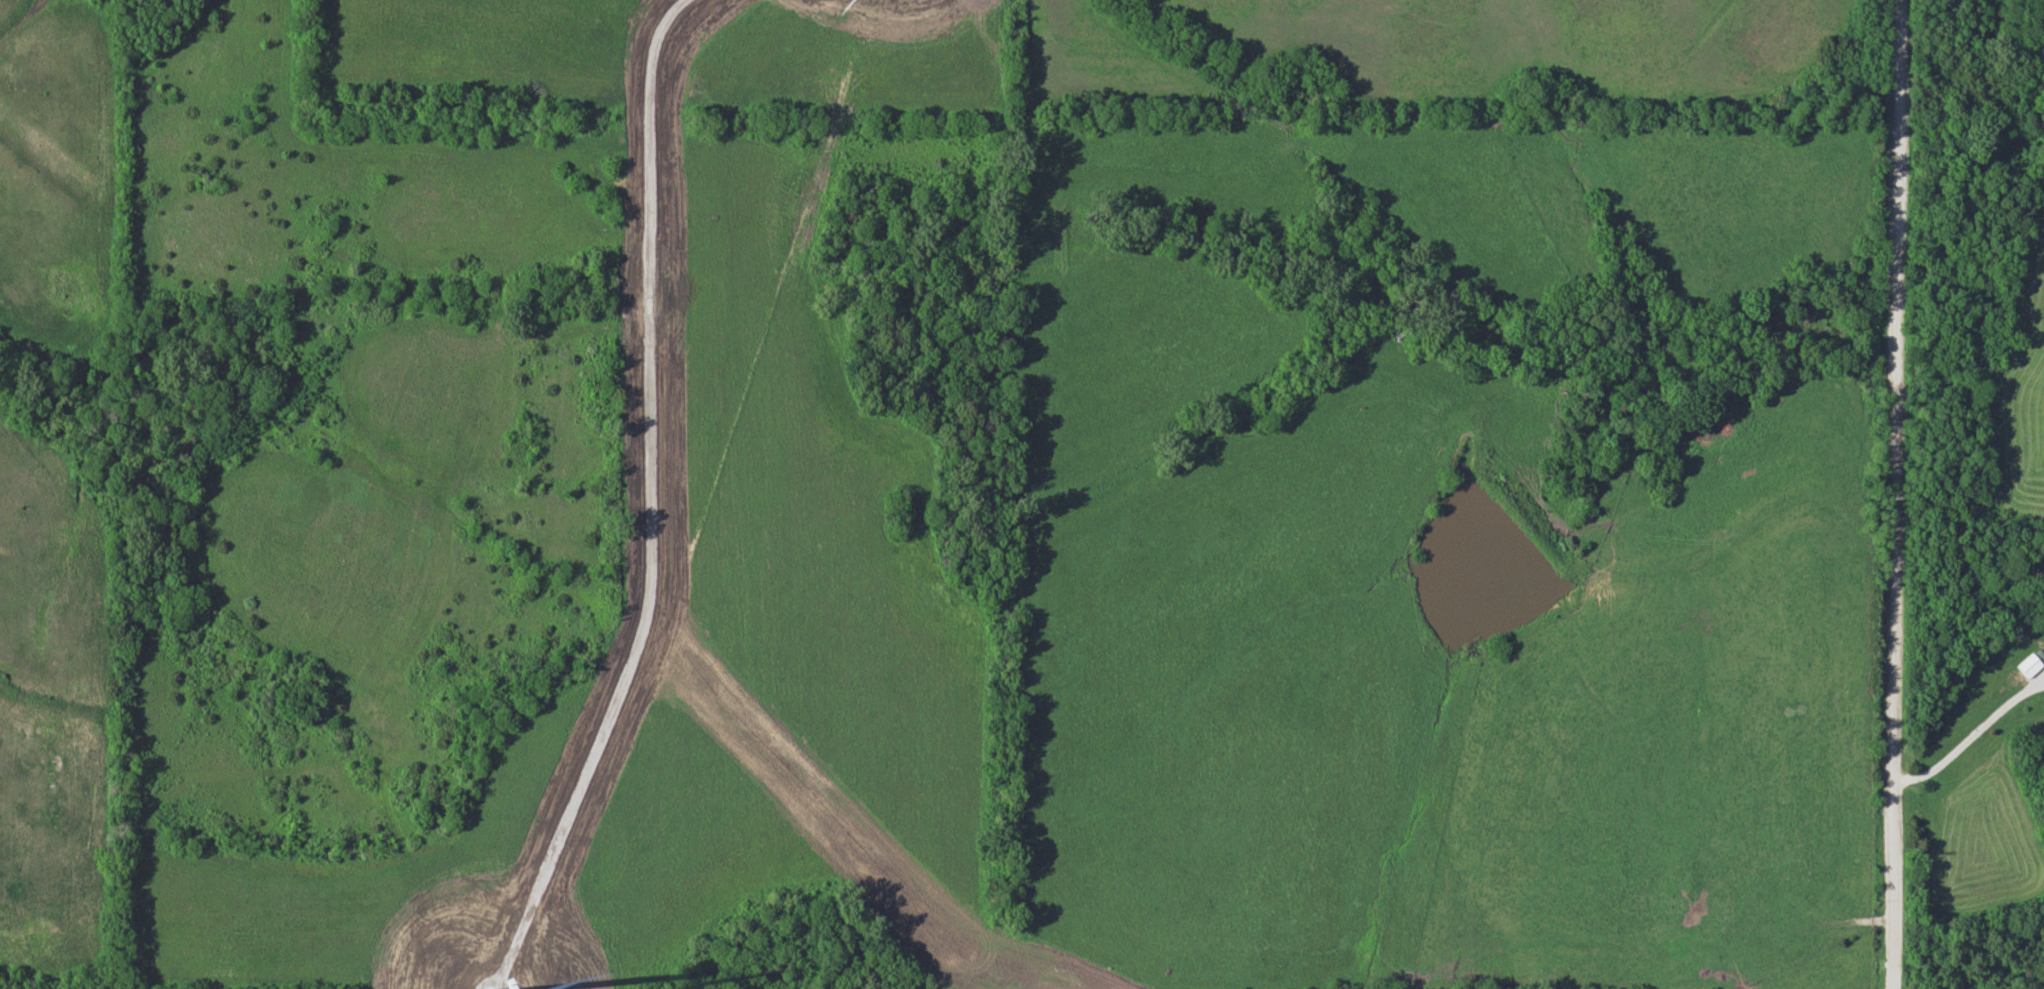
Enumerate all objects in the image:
road: (1892, 494)
building: (2025, 665)
road: (1971, 732)

